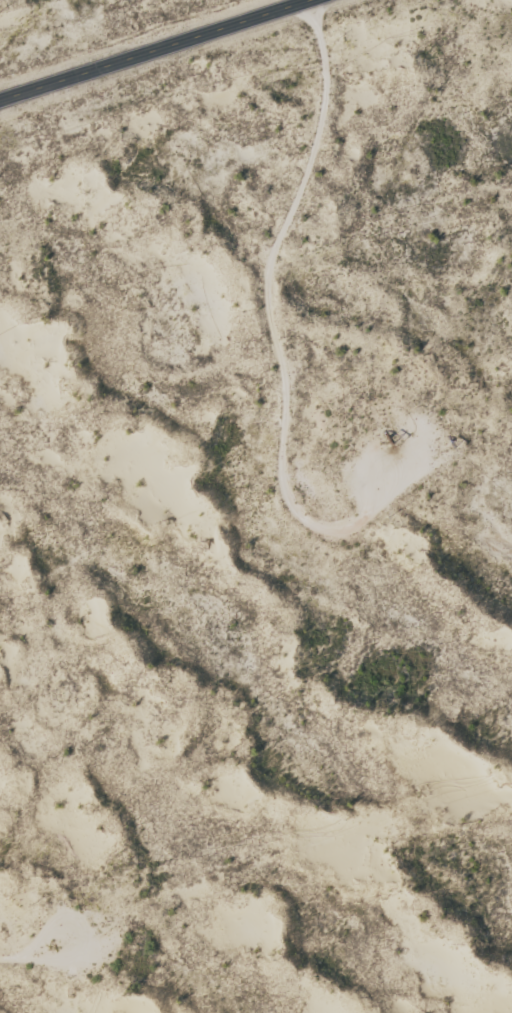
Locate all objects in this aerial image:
road: (150, 48)

